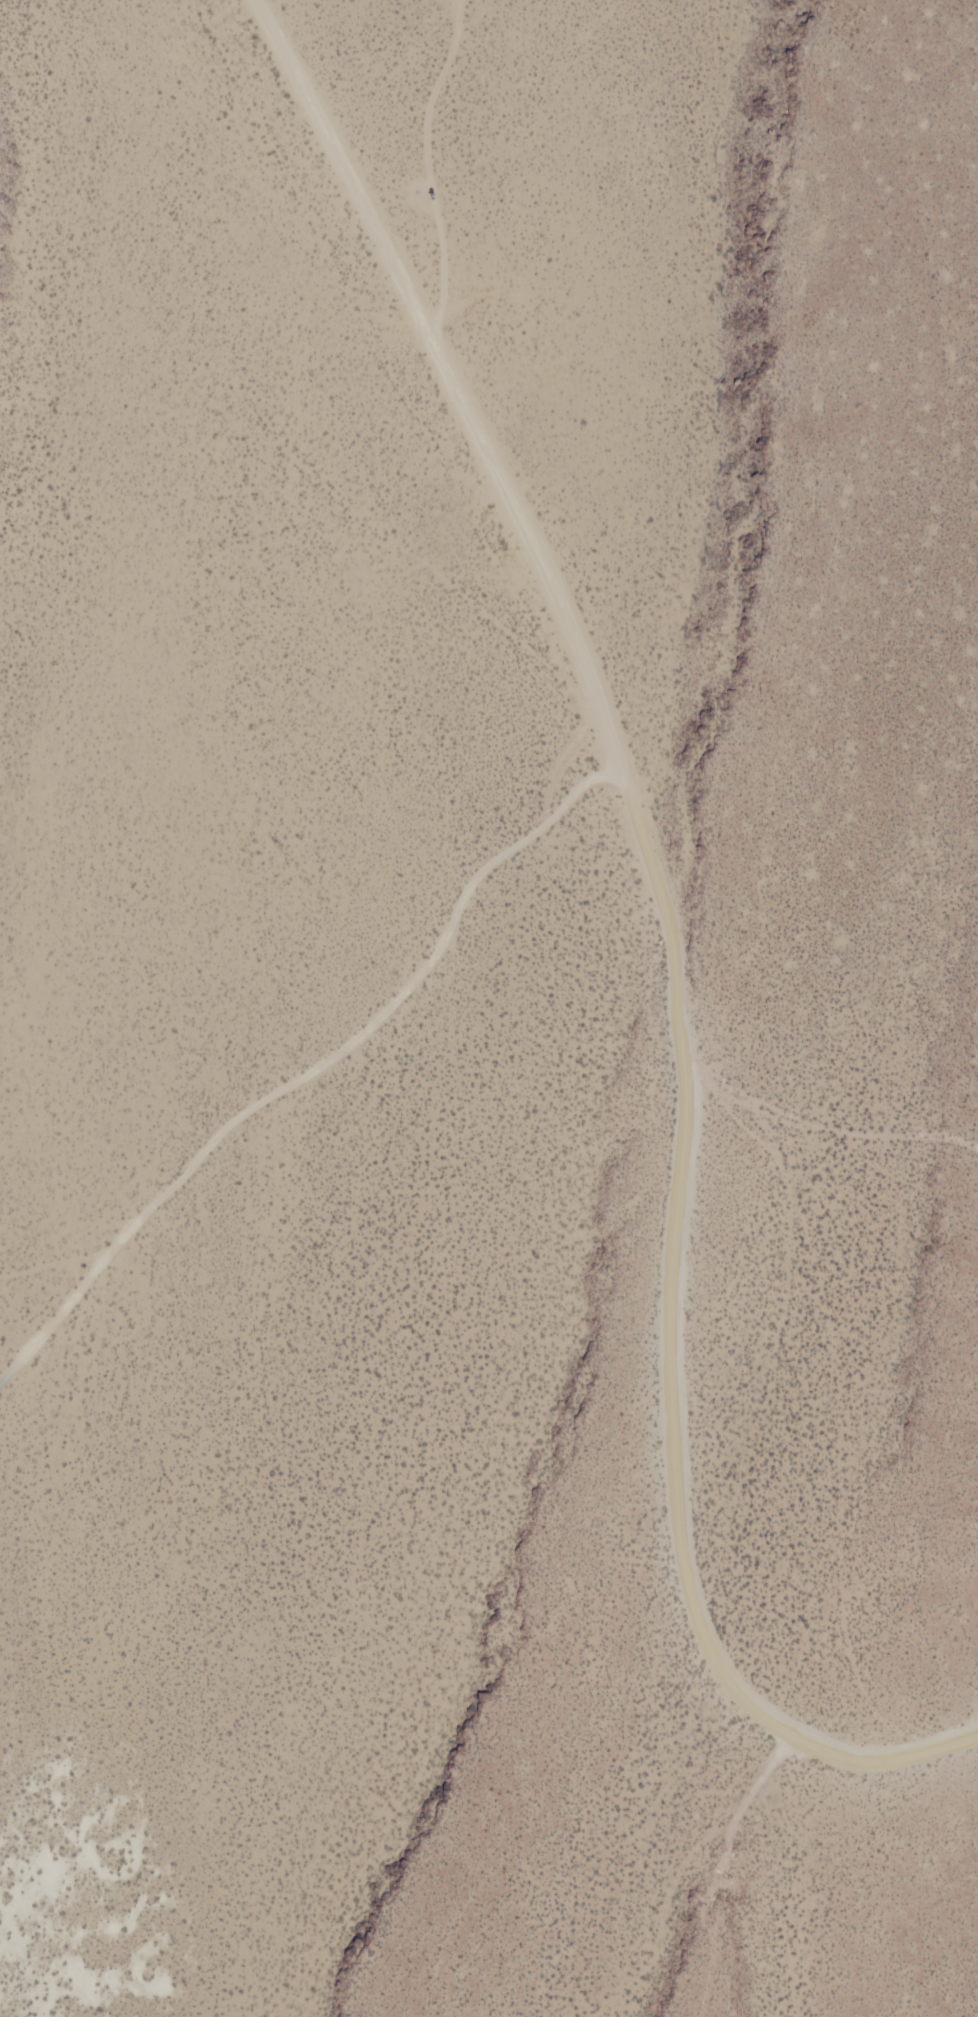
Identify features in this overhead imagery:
road: (671, 944)
road: (310, 1072)
road: (820, 1125)

